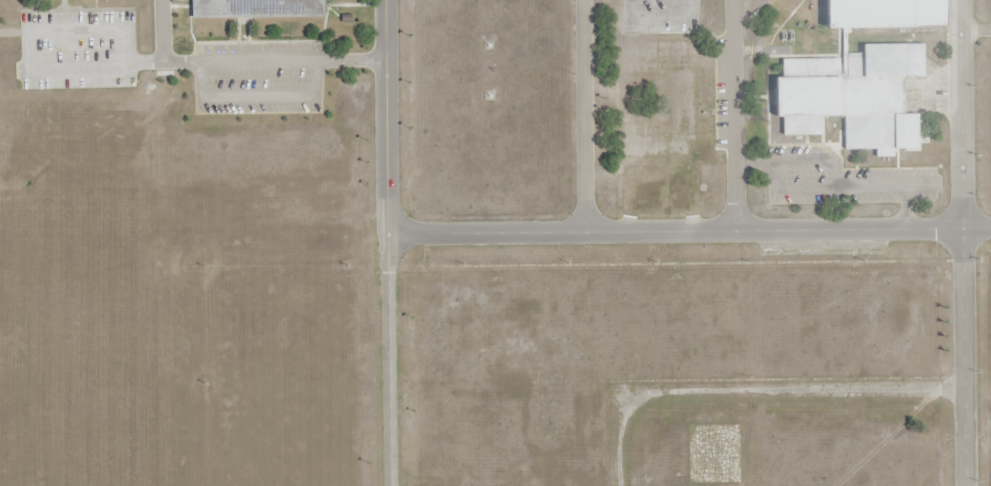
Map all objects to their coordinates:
building: (258, 7)
building: (885, 14)
building: (856, 96)
building: (666, 102)
road: (733, 115)
road: (585, 116)
road: (689, 230)
road: (962, 242)
road: (389, 243)
road: (754, 391)

